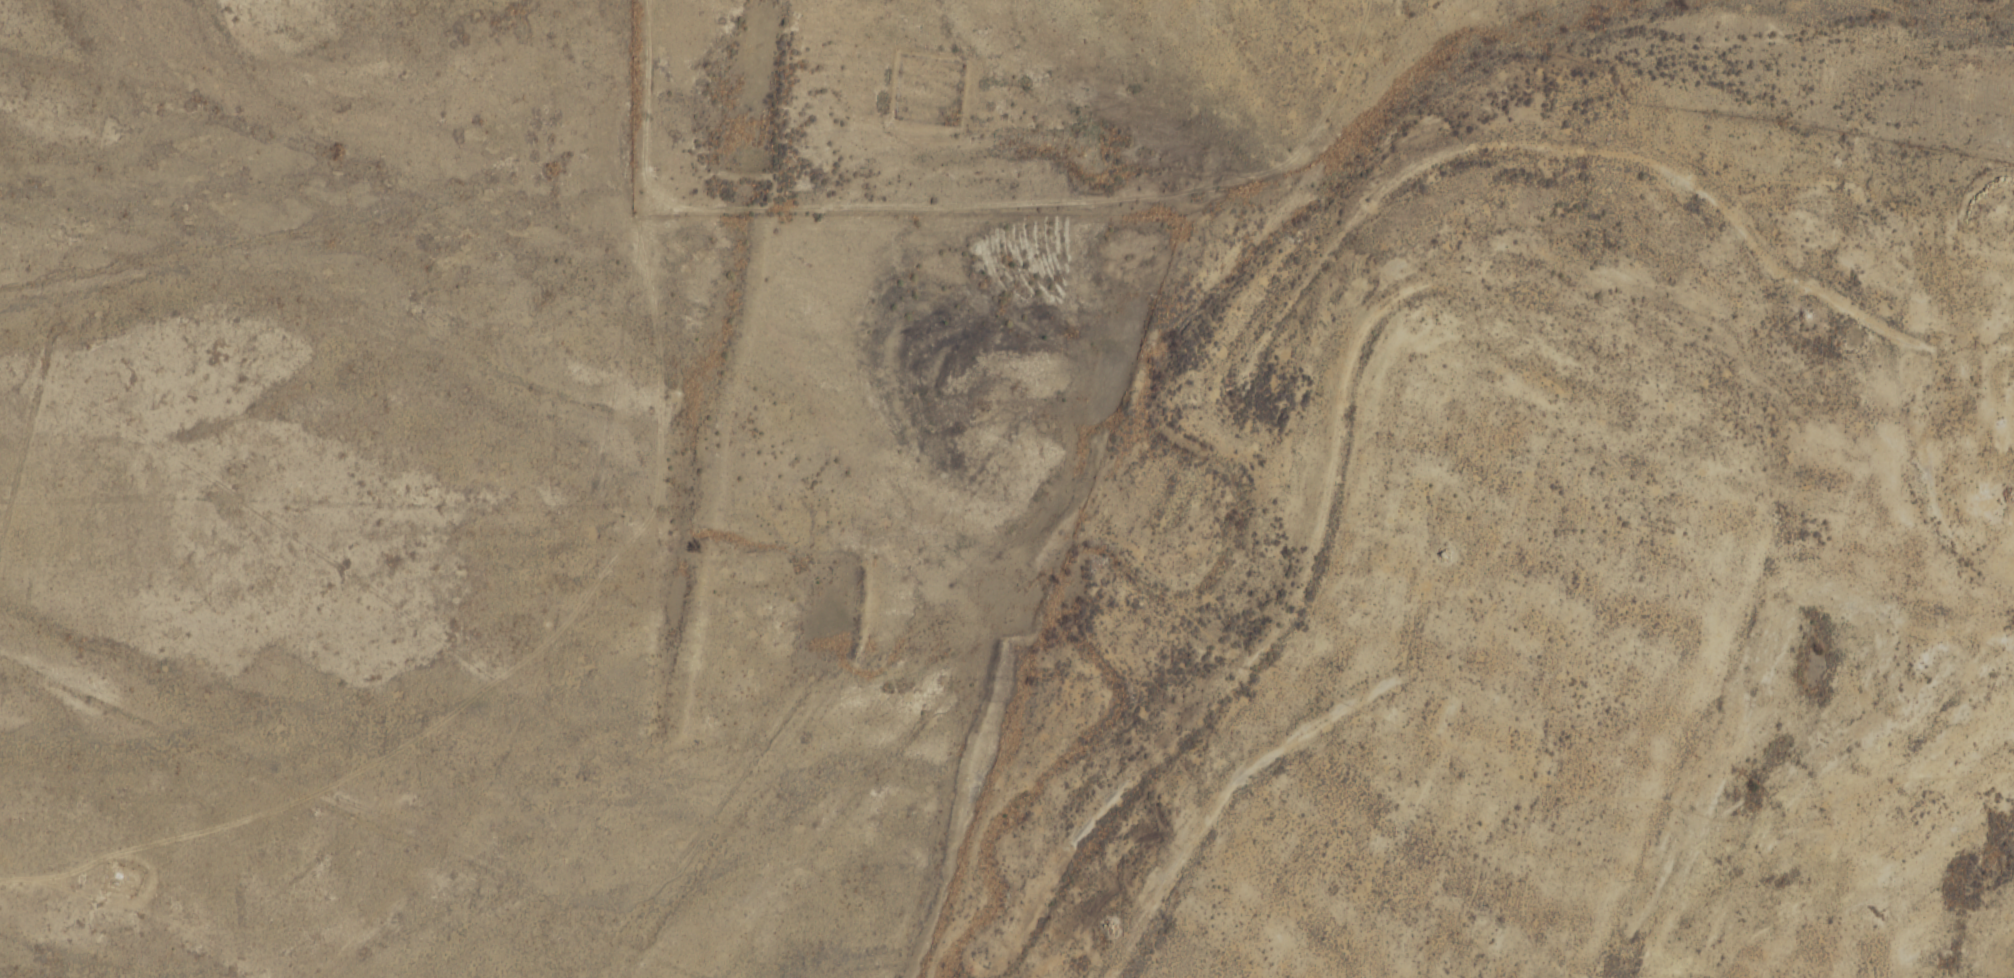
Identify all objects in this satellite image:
quarry: (1269, 938)

